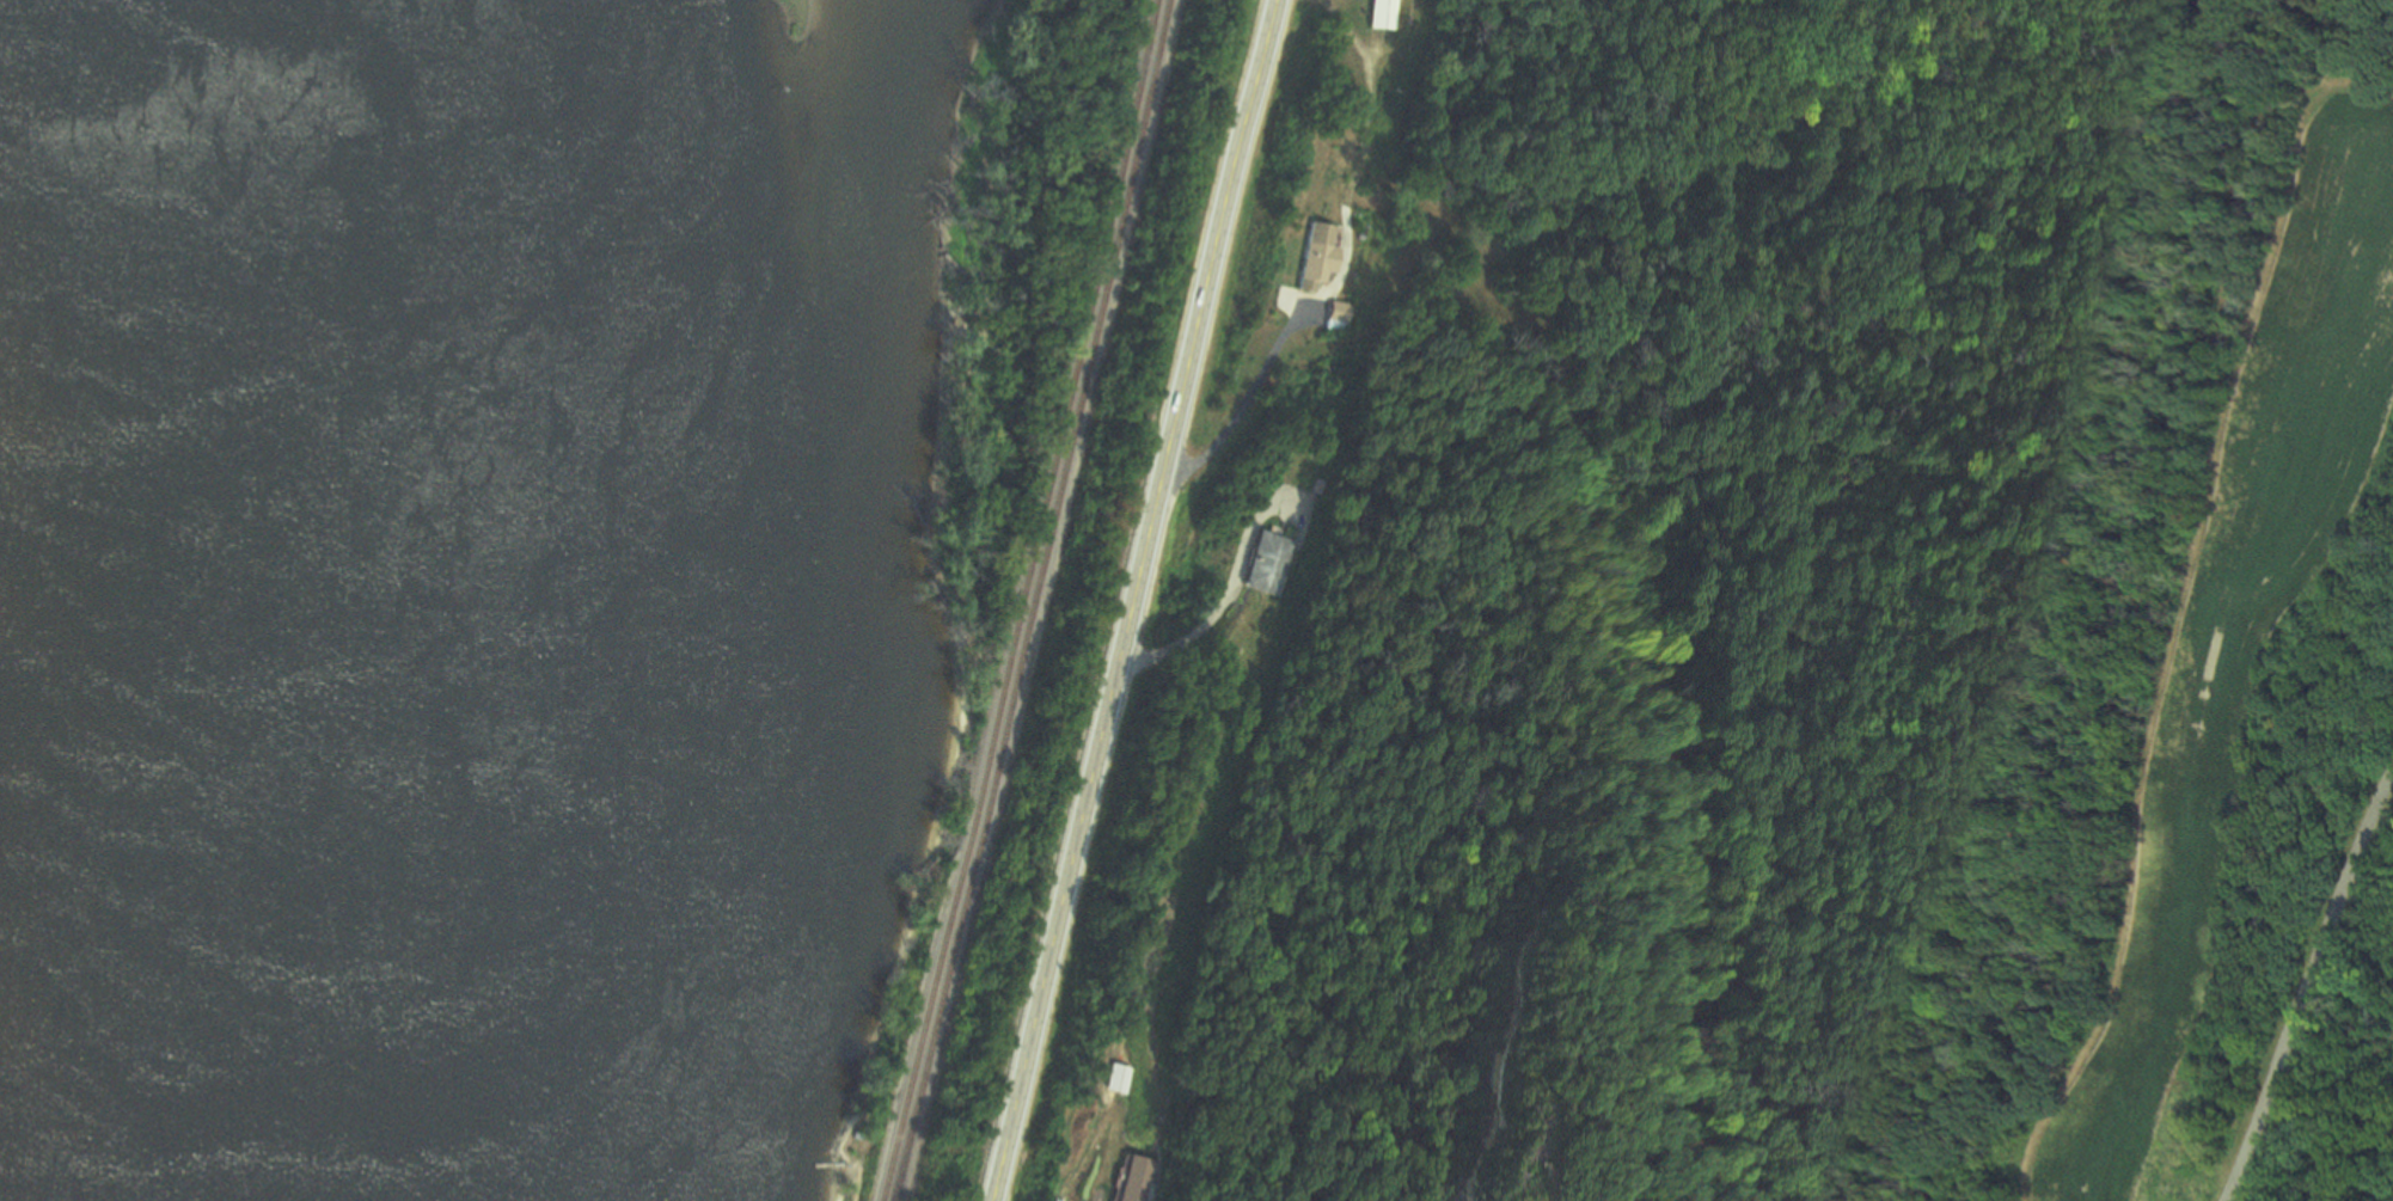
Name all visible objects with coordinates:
building: (1310, 257)
building: (1338, 317)
road: (1243, 406)
building: (1267, 563)
river: (355, 600)
road: (1130, 600)
railway: (1018, 601)
railway: (1033, 601)
road: (1217, 620)
road: (2306, 988)
building: (1116, 1079)

